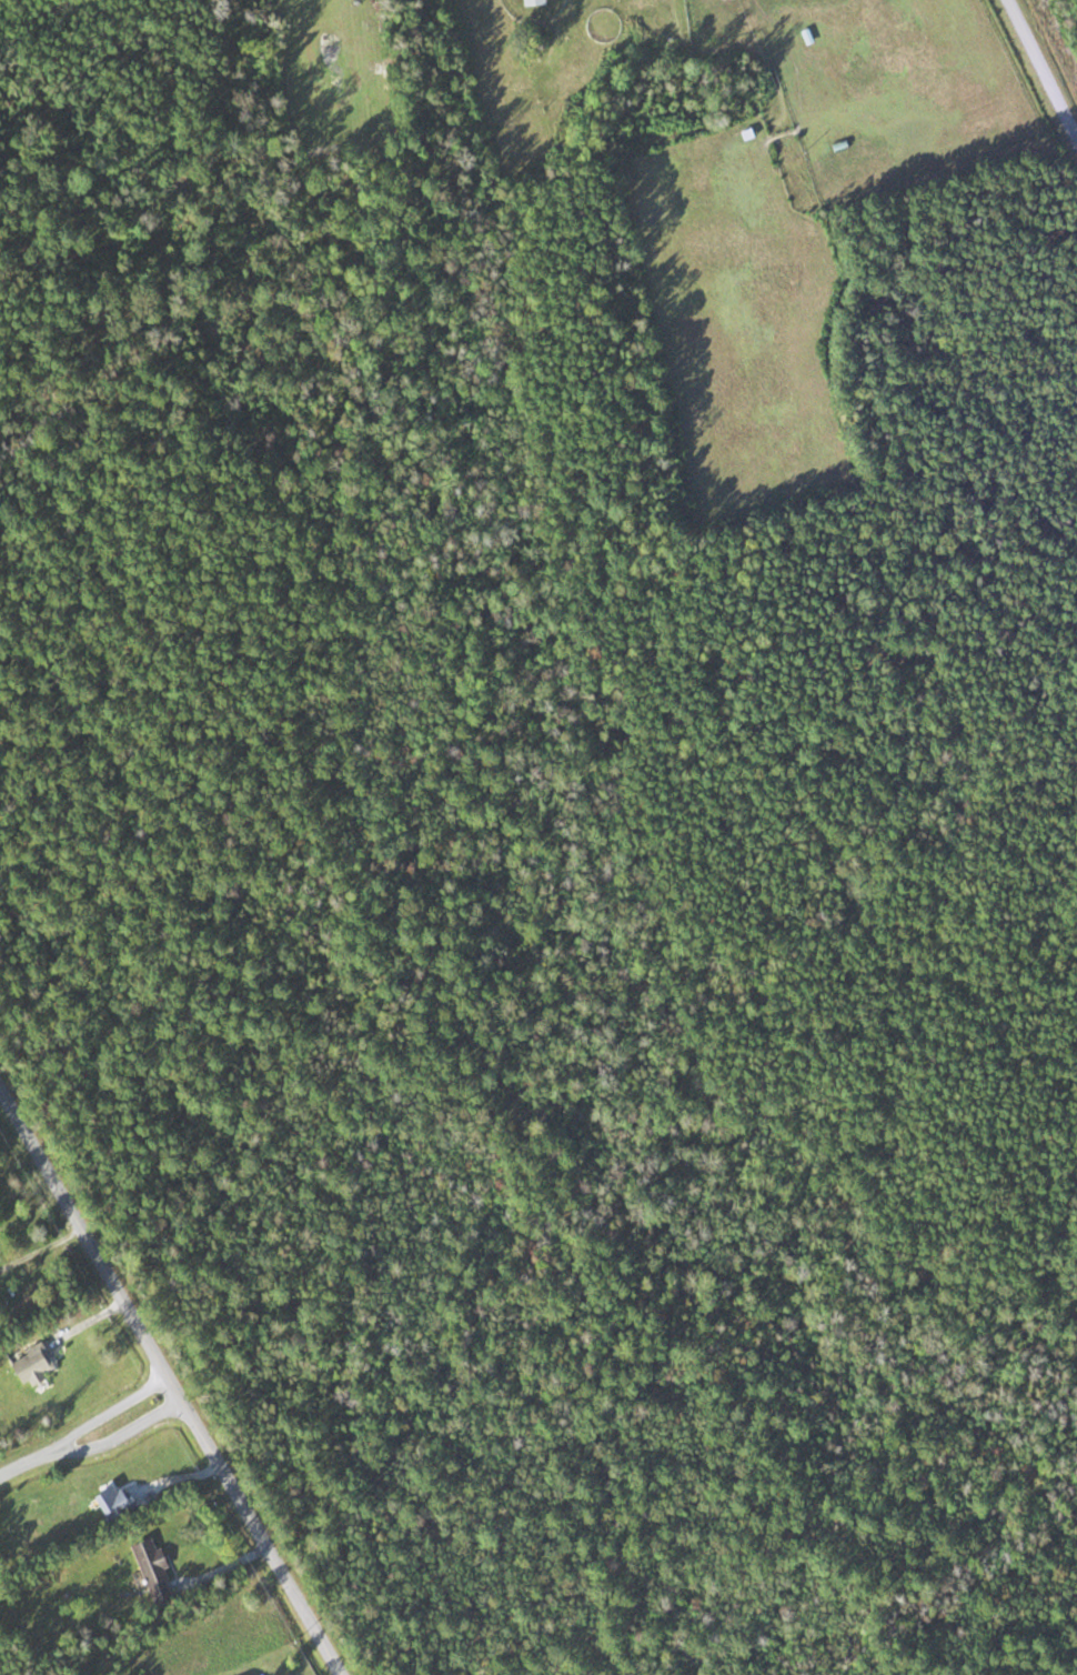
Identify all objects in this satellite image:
road: (1040, 73)
building: (39, 1366)
road: (175, 1383)
building: (123, 1503)
building: (160, 1572)

